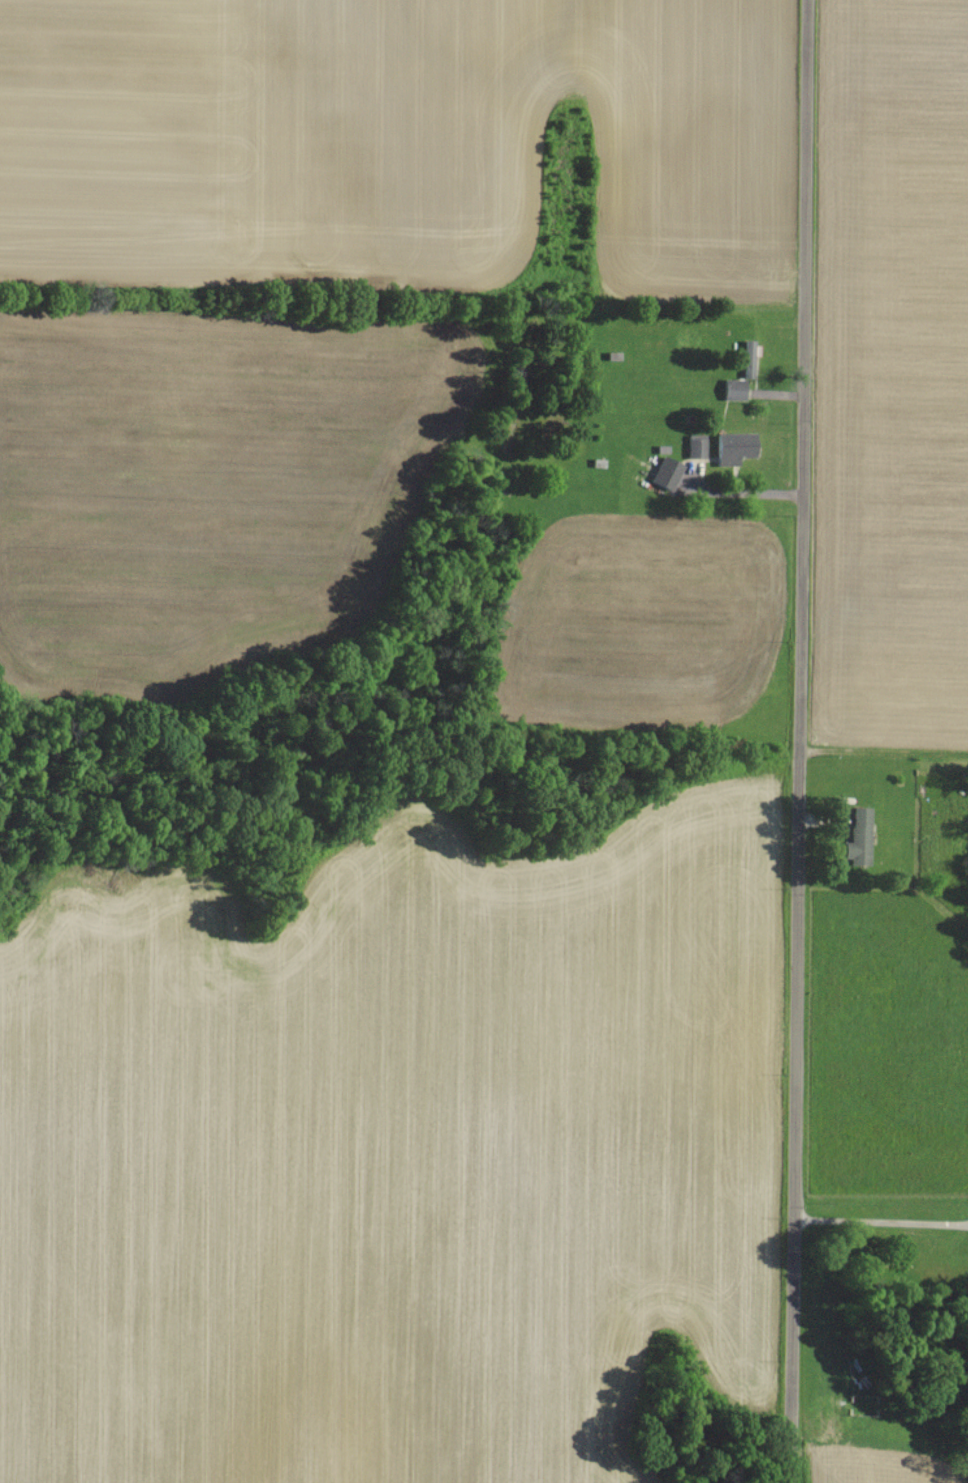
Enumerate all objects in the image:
building: (736, 388)
building: (735, 446)
building: (668, 471)
road: (804, 741)
building: (861, 836)
road: (883, 1196)

